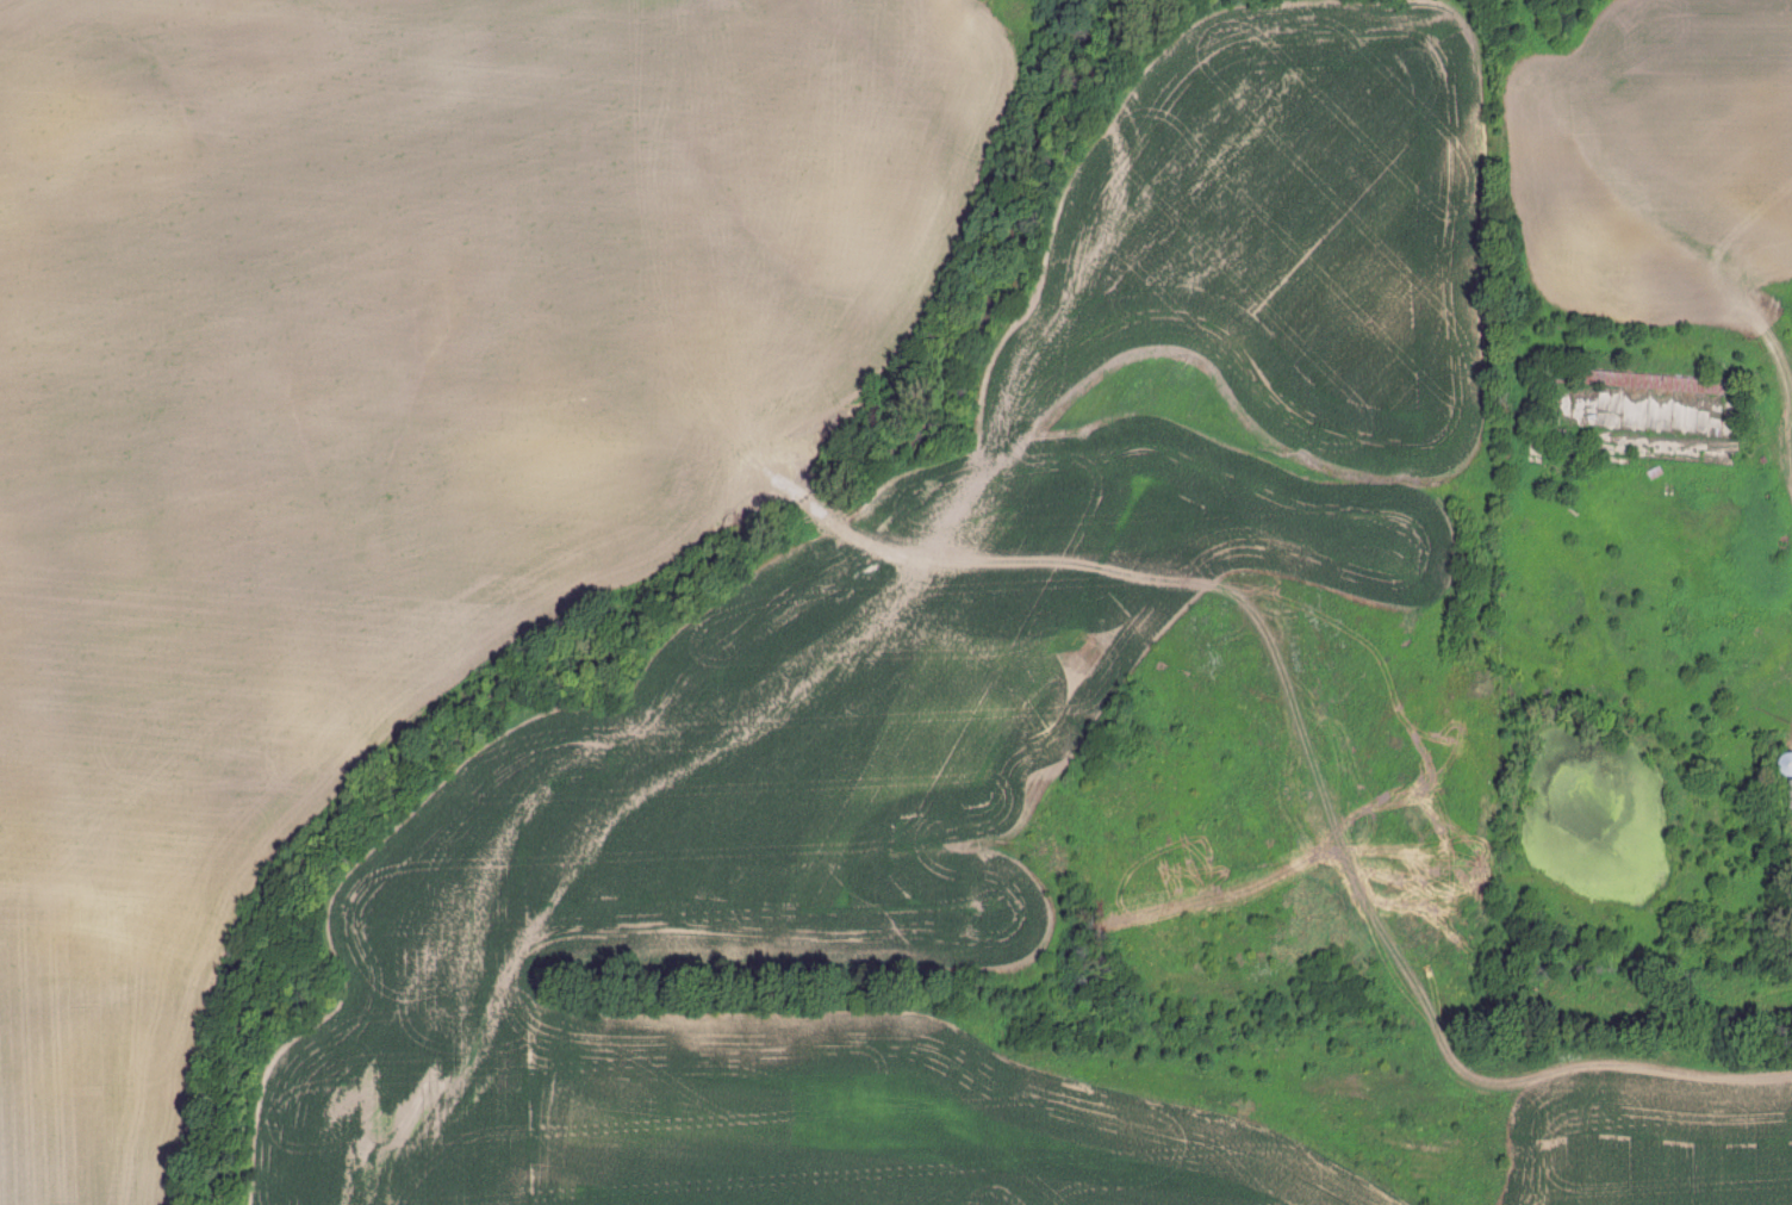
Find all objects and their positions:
road: (1772, 703)

